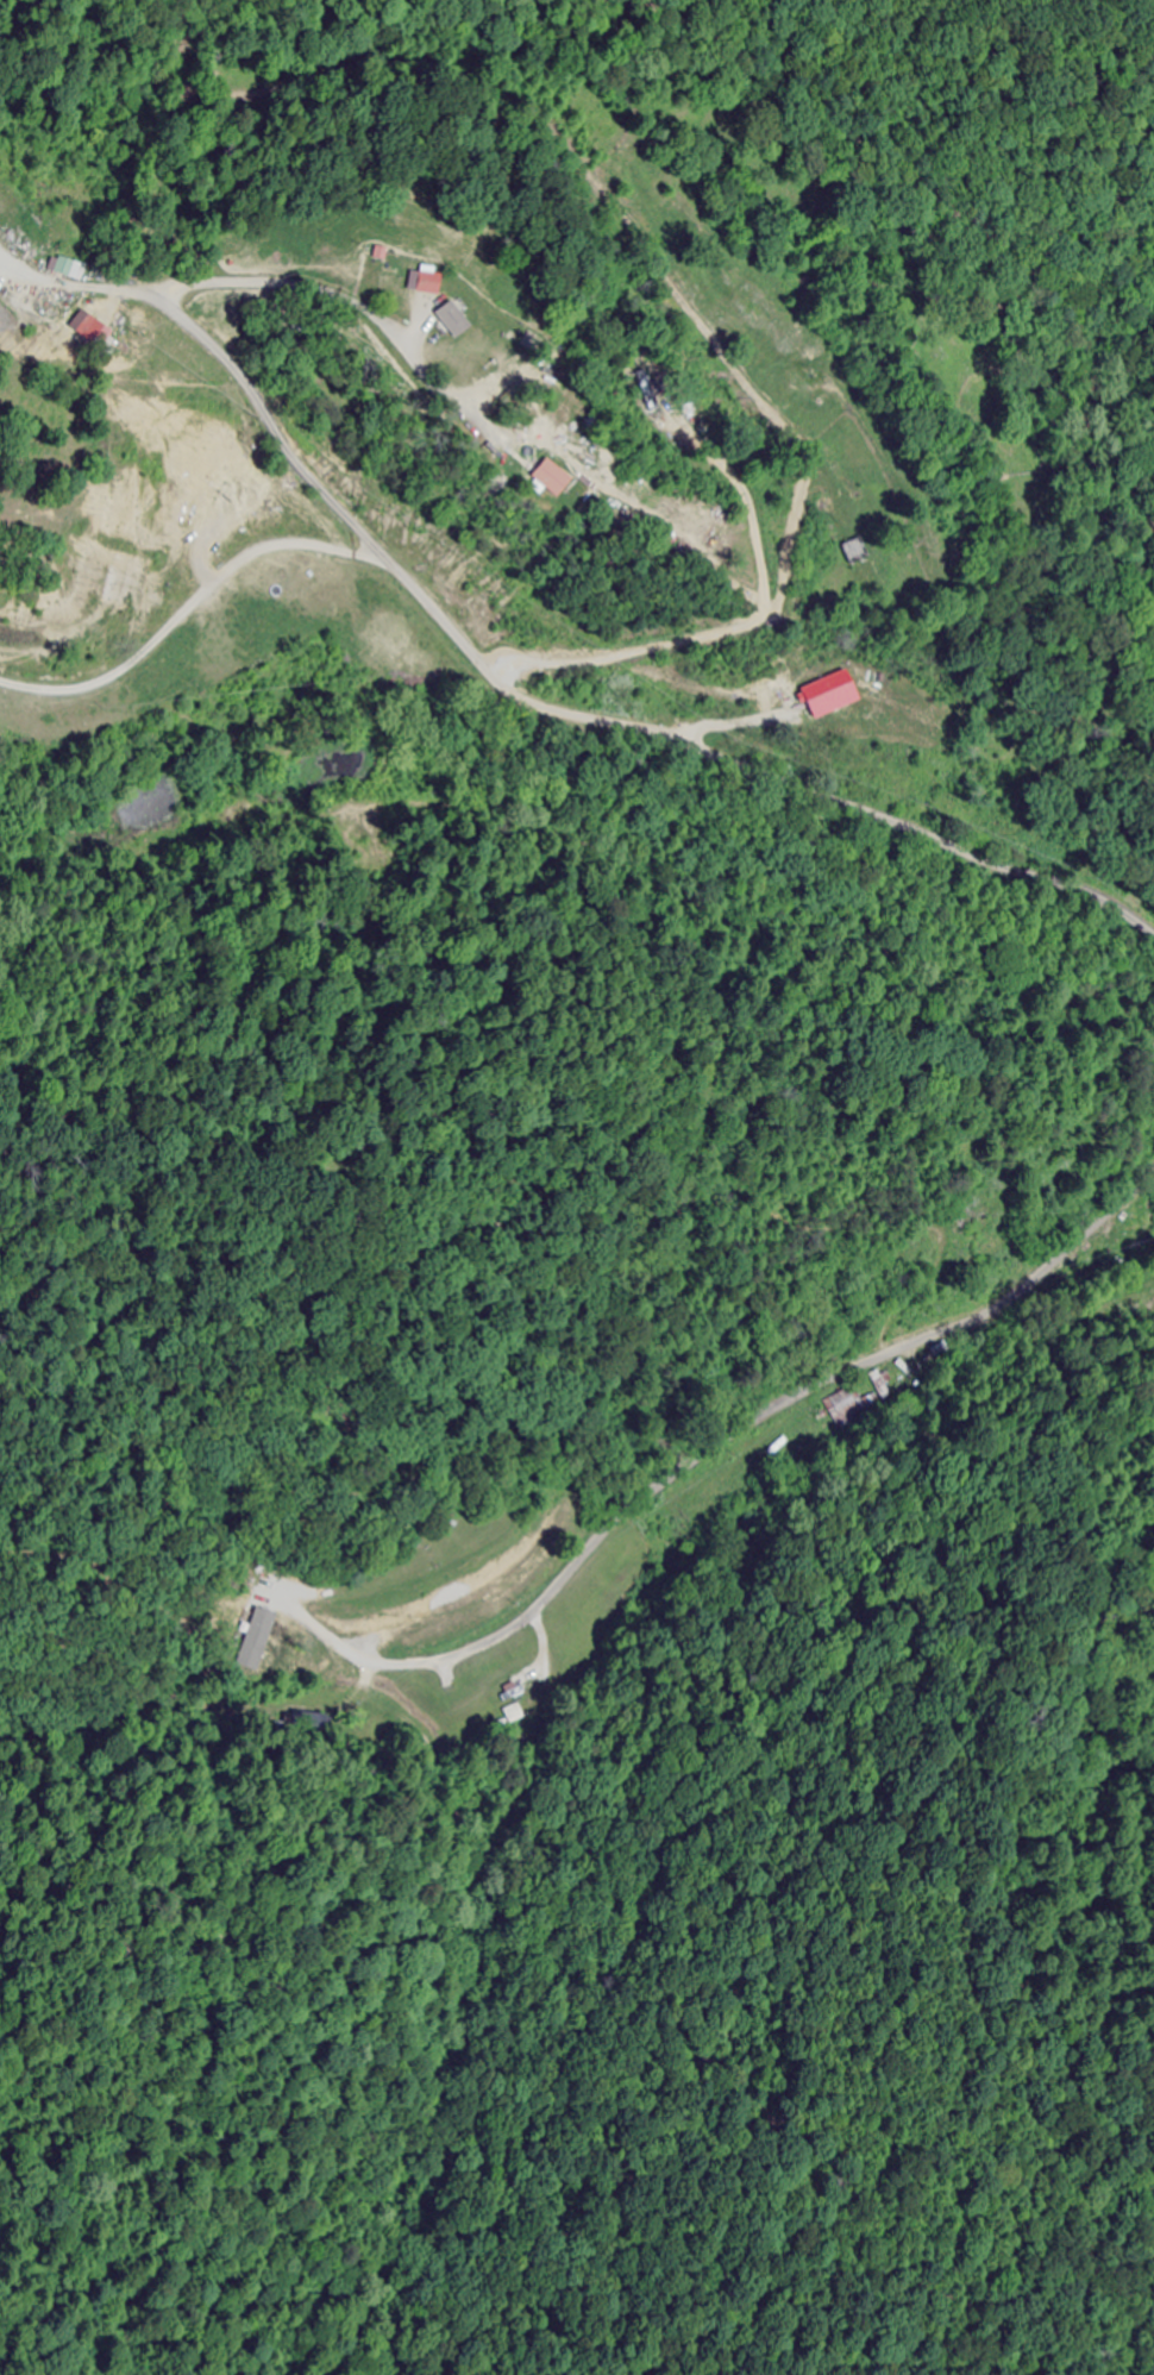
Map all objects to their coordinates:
road: (374, 247)
building: (68, 267)
building: (431, 283)
building: (457, 320)
building: (98, 331)
building: (645, 391)
building: (563, 480)
building: (239, 487)
road: (197, 593)
building: (834, 695)
road: (526, 697)
building: (974, 1218)
building: (841, 1405)
road: (761, 1414)

